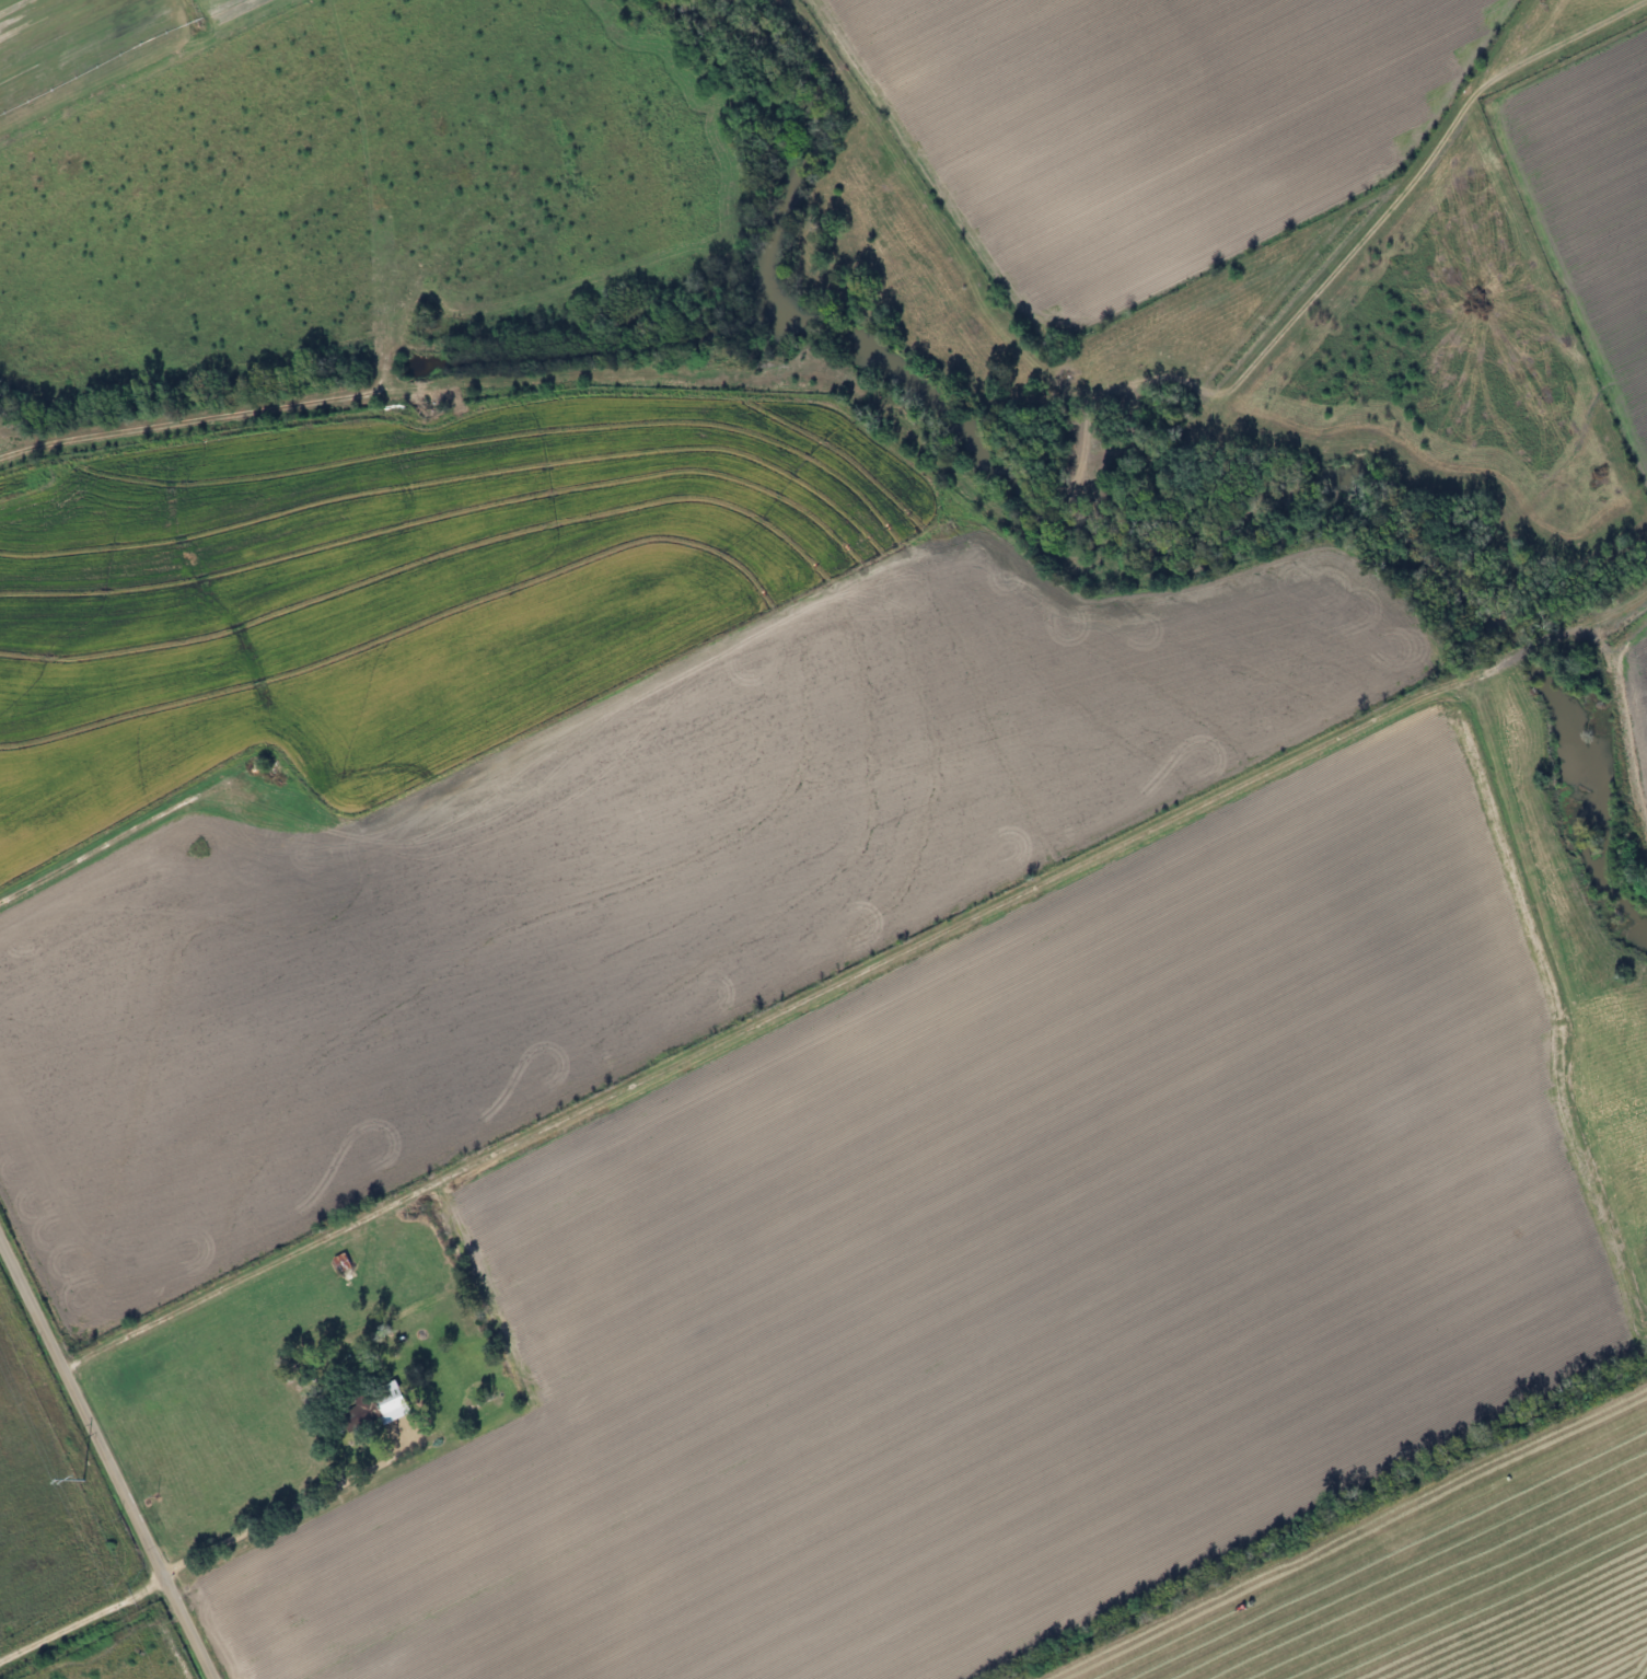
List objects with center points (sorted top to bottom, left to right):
road: (941, 928)
building: (1589, 1099)
building: (1646, 1182)
building: (368, 1409)
road: (107, 1456)
power tower: (82, 1480)
road: (209, 1547)

